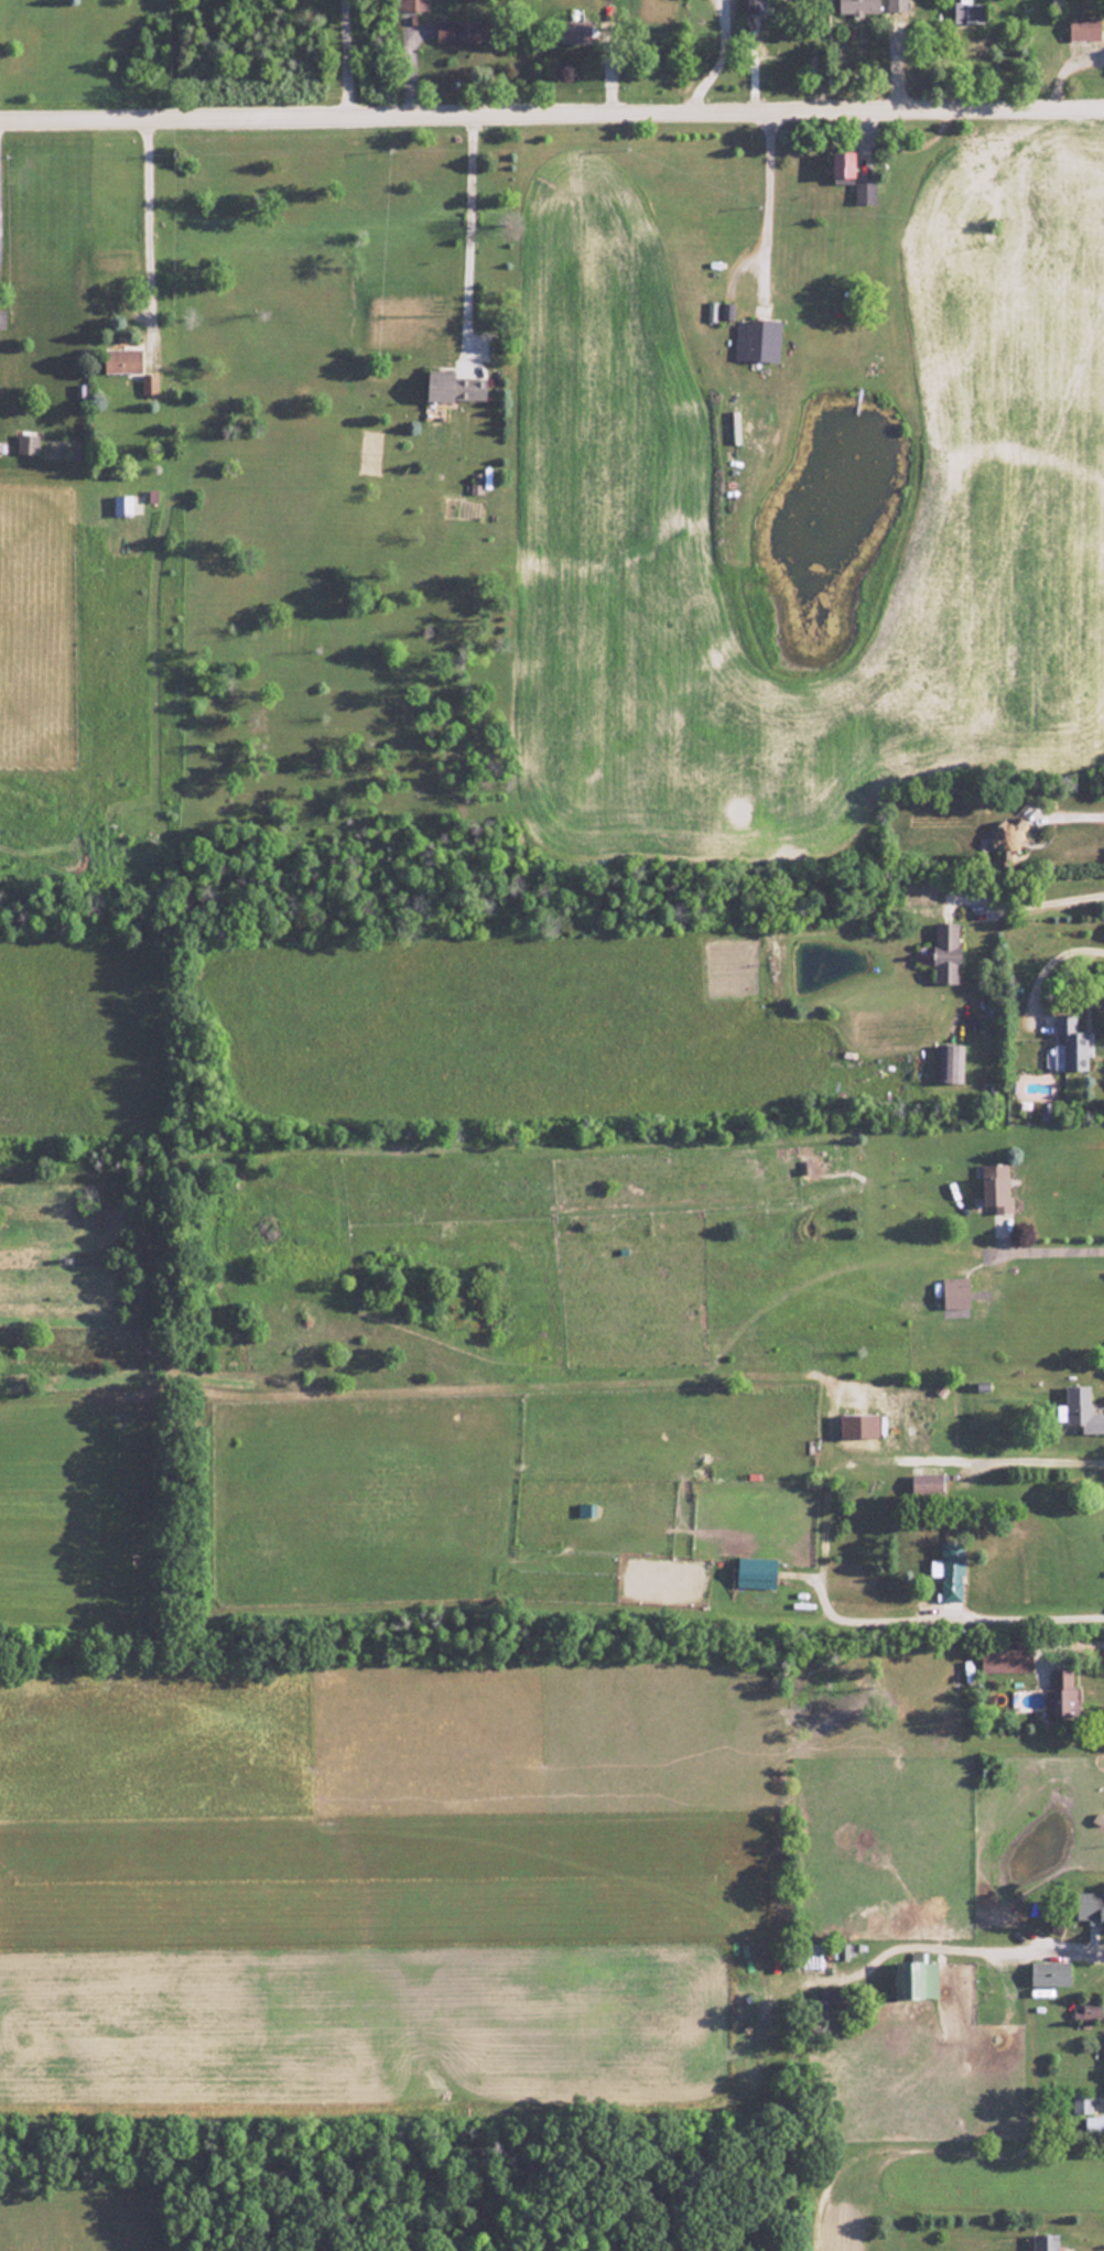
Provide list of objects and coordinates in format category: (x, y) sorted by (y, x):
building: (412, 4)
building: (895, 6)
building: (750, 7)
building: (856, 7)
building: (966, 12)
building: (1082, 29)
building: (463, 31)
building: (574, 32)
road: (342, 57)
road: (718, 57)
road: (552, 110)
building: (841, 167)
building: (863, 193)
road: (765, 203)
road: (145, 216)
road: (466, 234)
building: (756, 340)
building: (121, 360)
building: (148, 383)
building: (453, 387)
building: (25, 444)
building: (121, 505)
road: (1075, 811)
building: (1007, 835)
road: (1045, 897)
building: (944, 953)
road: (1047, 961)
building: (949, 1063)
building: (994, 1188)
road: (1056, 1251)
building: (953, 1292)
building: (1079, 1410)
building: (857, 1426)
road: (1043, 1462)
building: (924, 1484)
building: (584, 1509)
building: (948, 1571)
building: (754, 1572)
road: (1029, 1619)
road: (1074, 1643)
building: (1004, 1656)
building: (963, 1668)
building: (1059, 1695)
building: (1090, 1909)
road: (956, 1946)
building: (1048, 1973)
building: (830, 1996)
building: (1086, 2011)
building: (1080, 2102)
building: (1093, 2124)
building: (1043, 2242)

